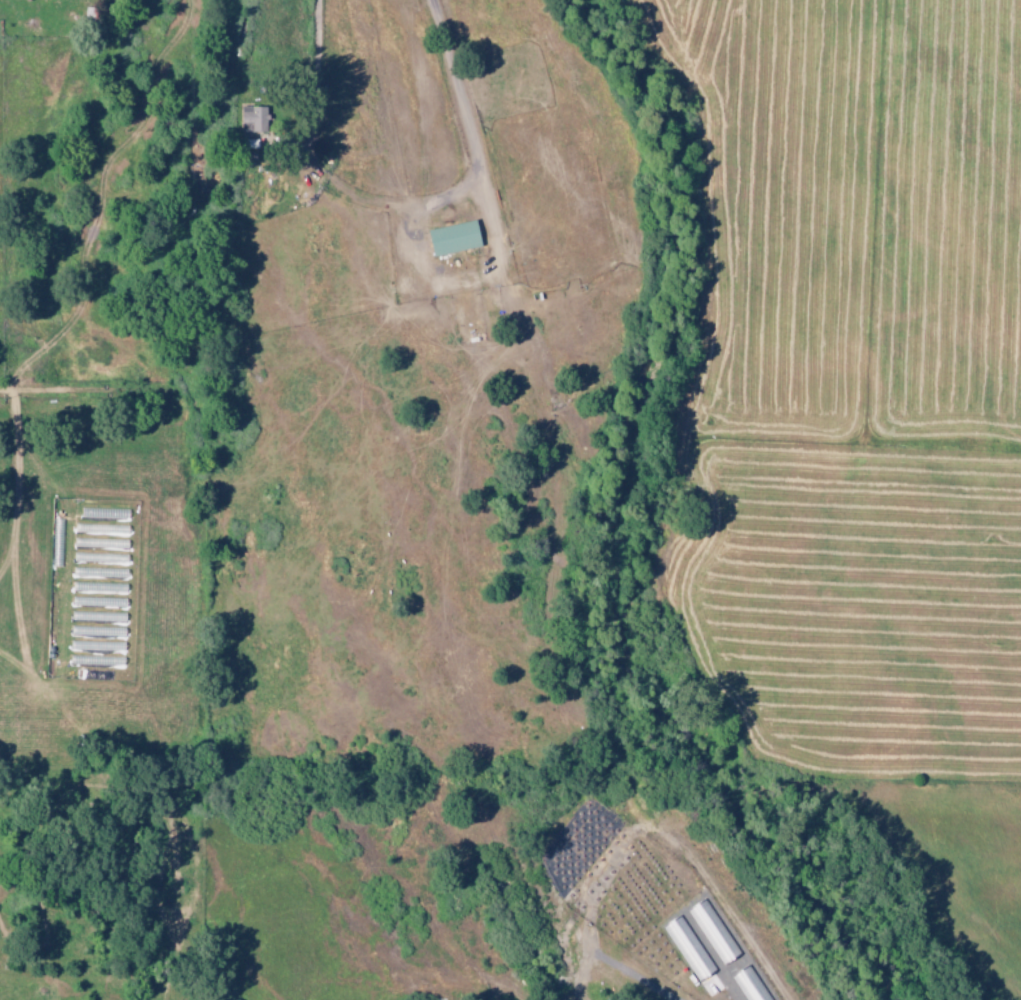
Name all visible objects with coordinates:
building: (254, 119)
building: (456, 238)
road: (560, 529)
building: (713, 933)
building: (689, 949)
building: (751, 985)

